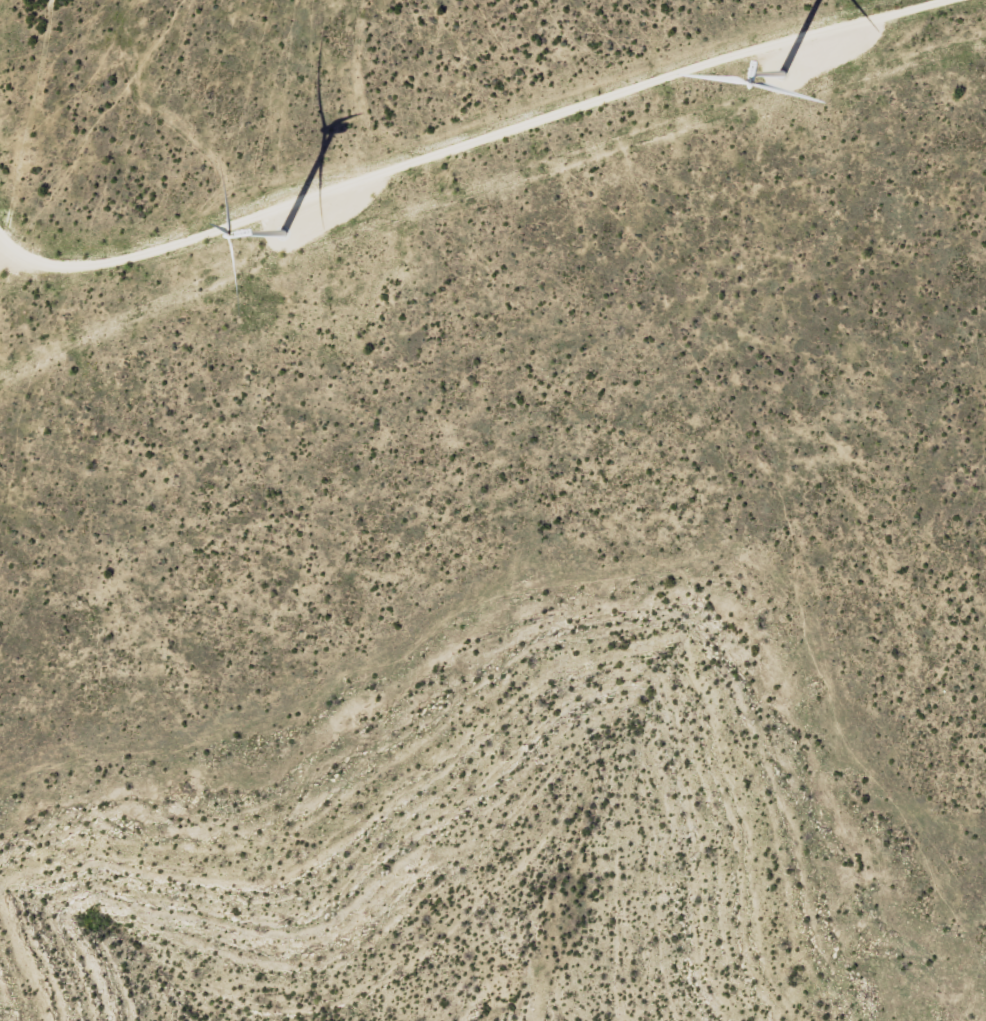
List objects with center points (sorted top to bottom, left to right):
wind turbine: (780, 76)
road: (40, 150)
wind turbine: (282, 234)

